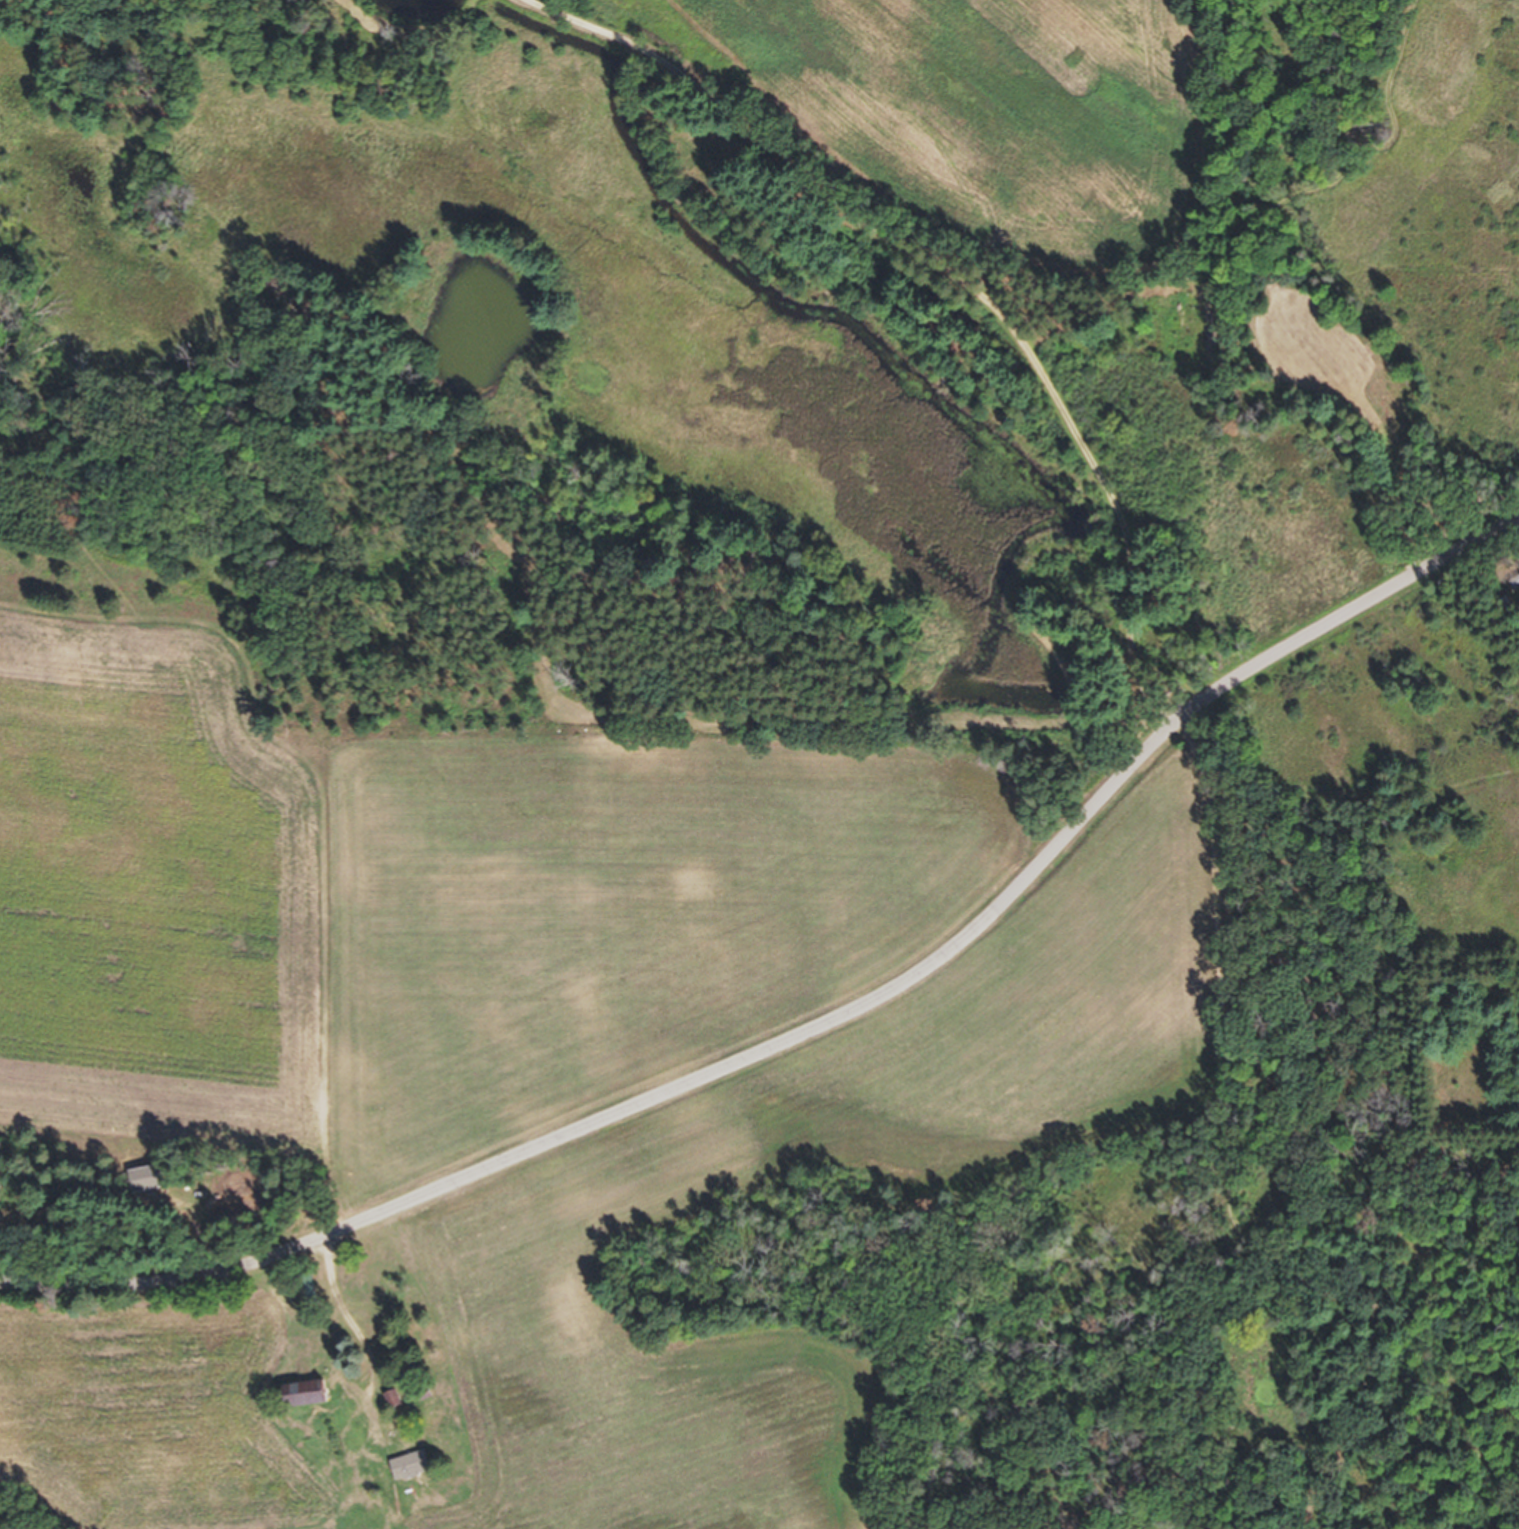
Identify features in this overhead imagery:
road: (945, 278)
building: (1514, 591)
road: (831, 1016)
building: (150, 1186)
building: (313, 1401)
building: (400, 1407)
building: (411, 1473)

